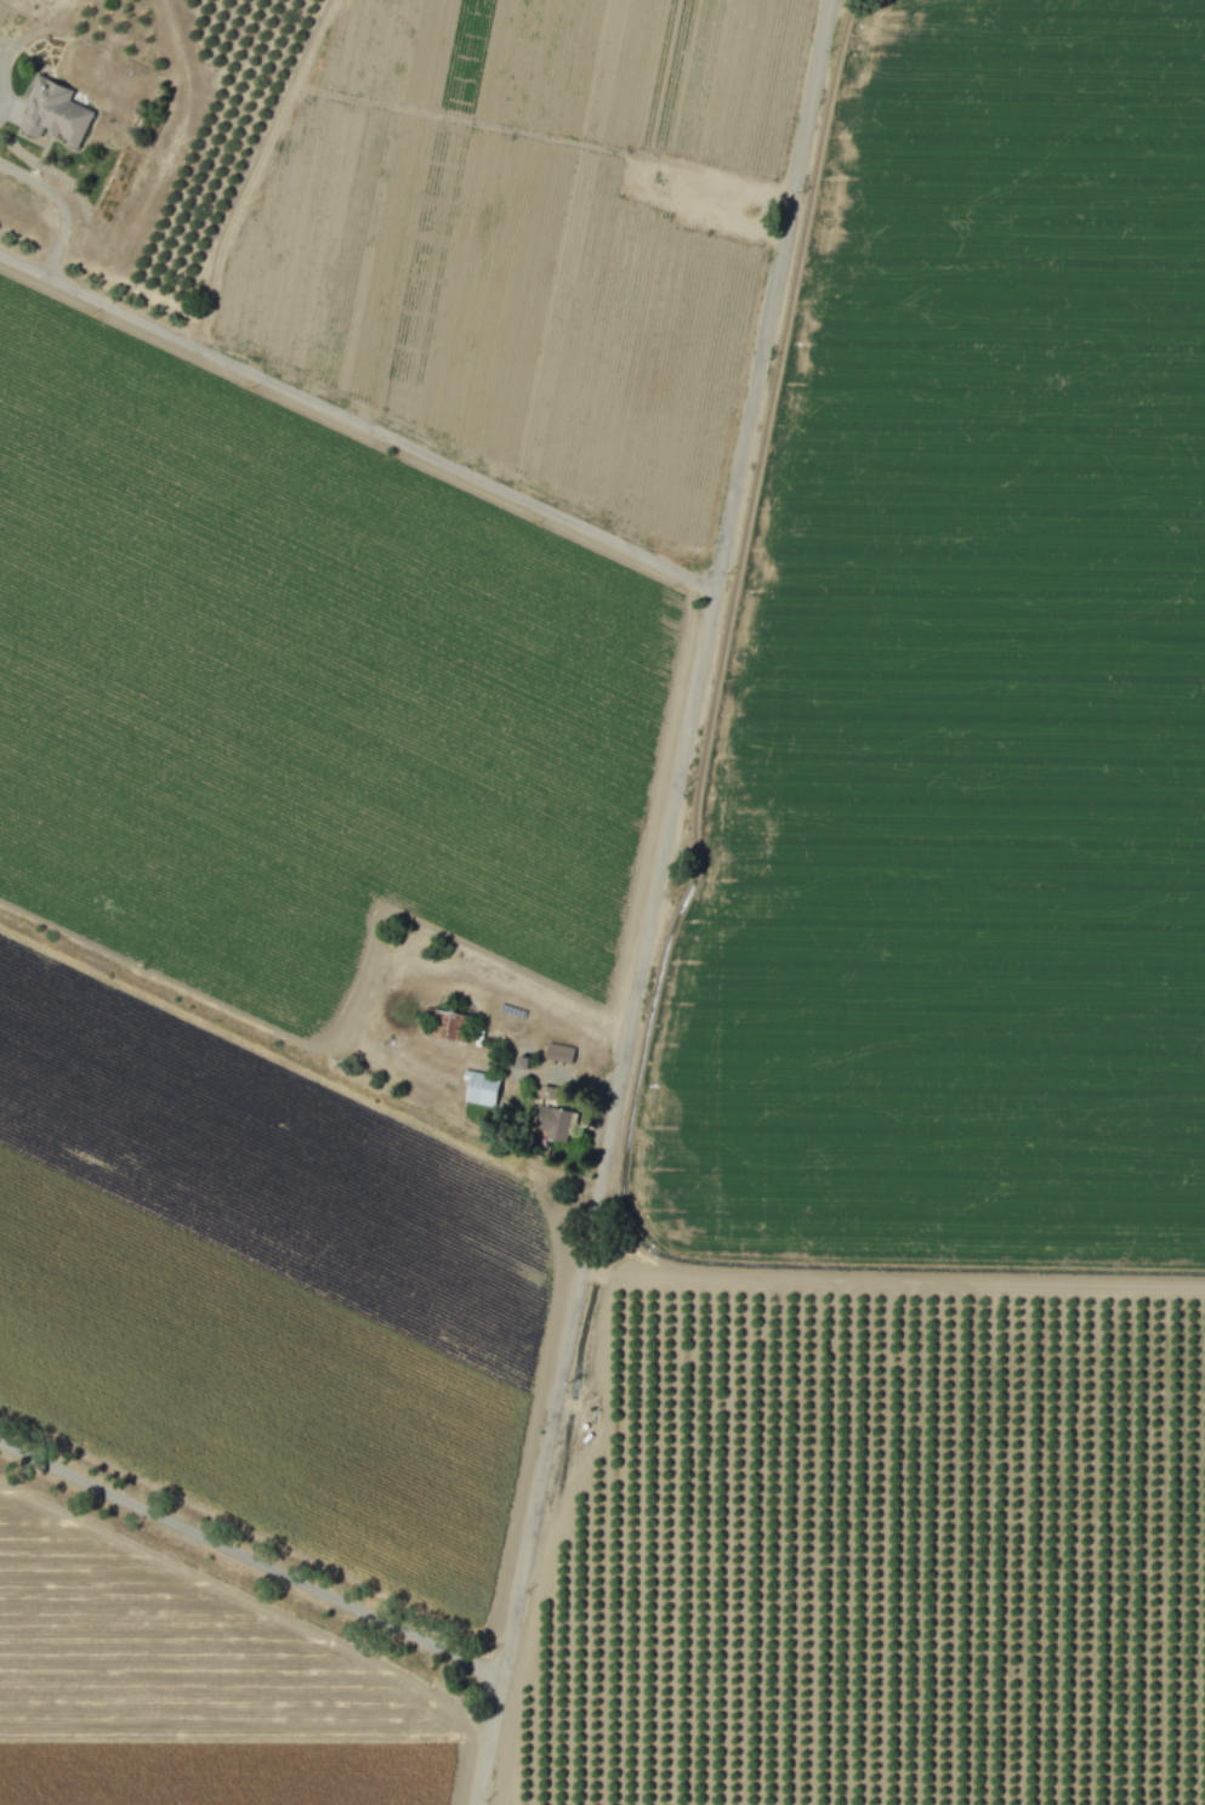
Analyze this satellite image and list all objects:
road: (1, 56)
building: (53, 113)
road: (63, 204)
road: (362, 426)
road: (661, 903)
road: (580, 1082)
building: (483, 1091)
road: (250, 1560)

